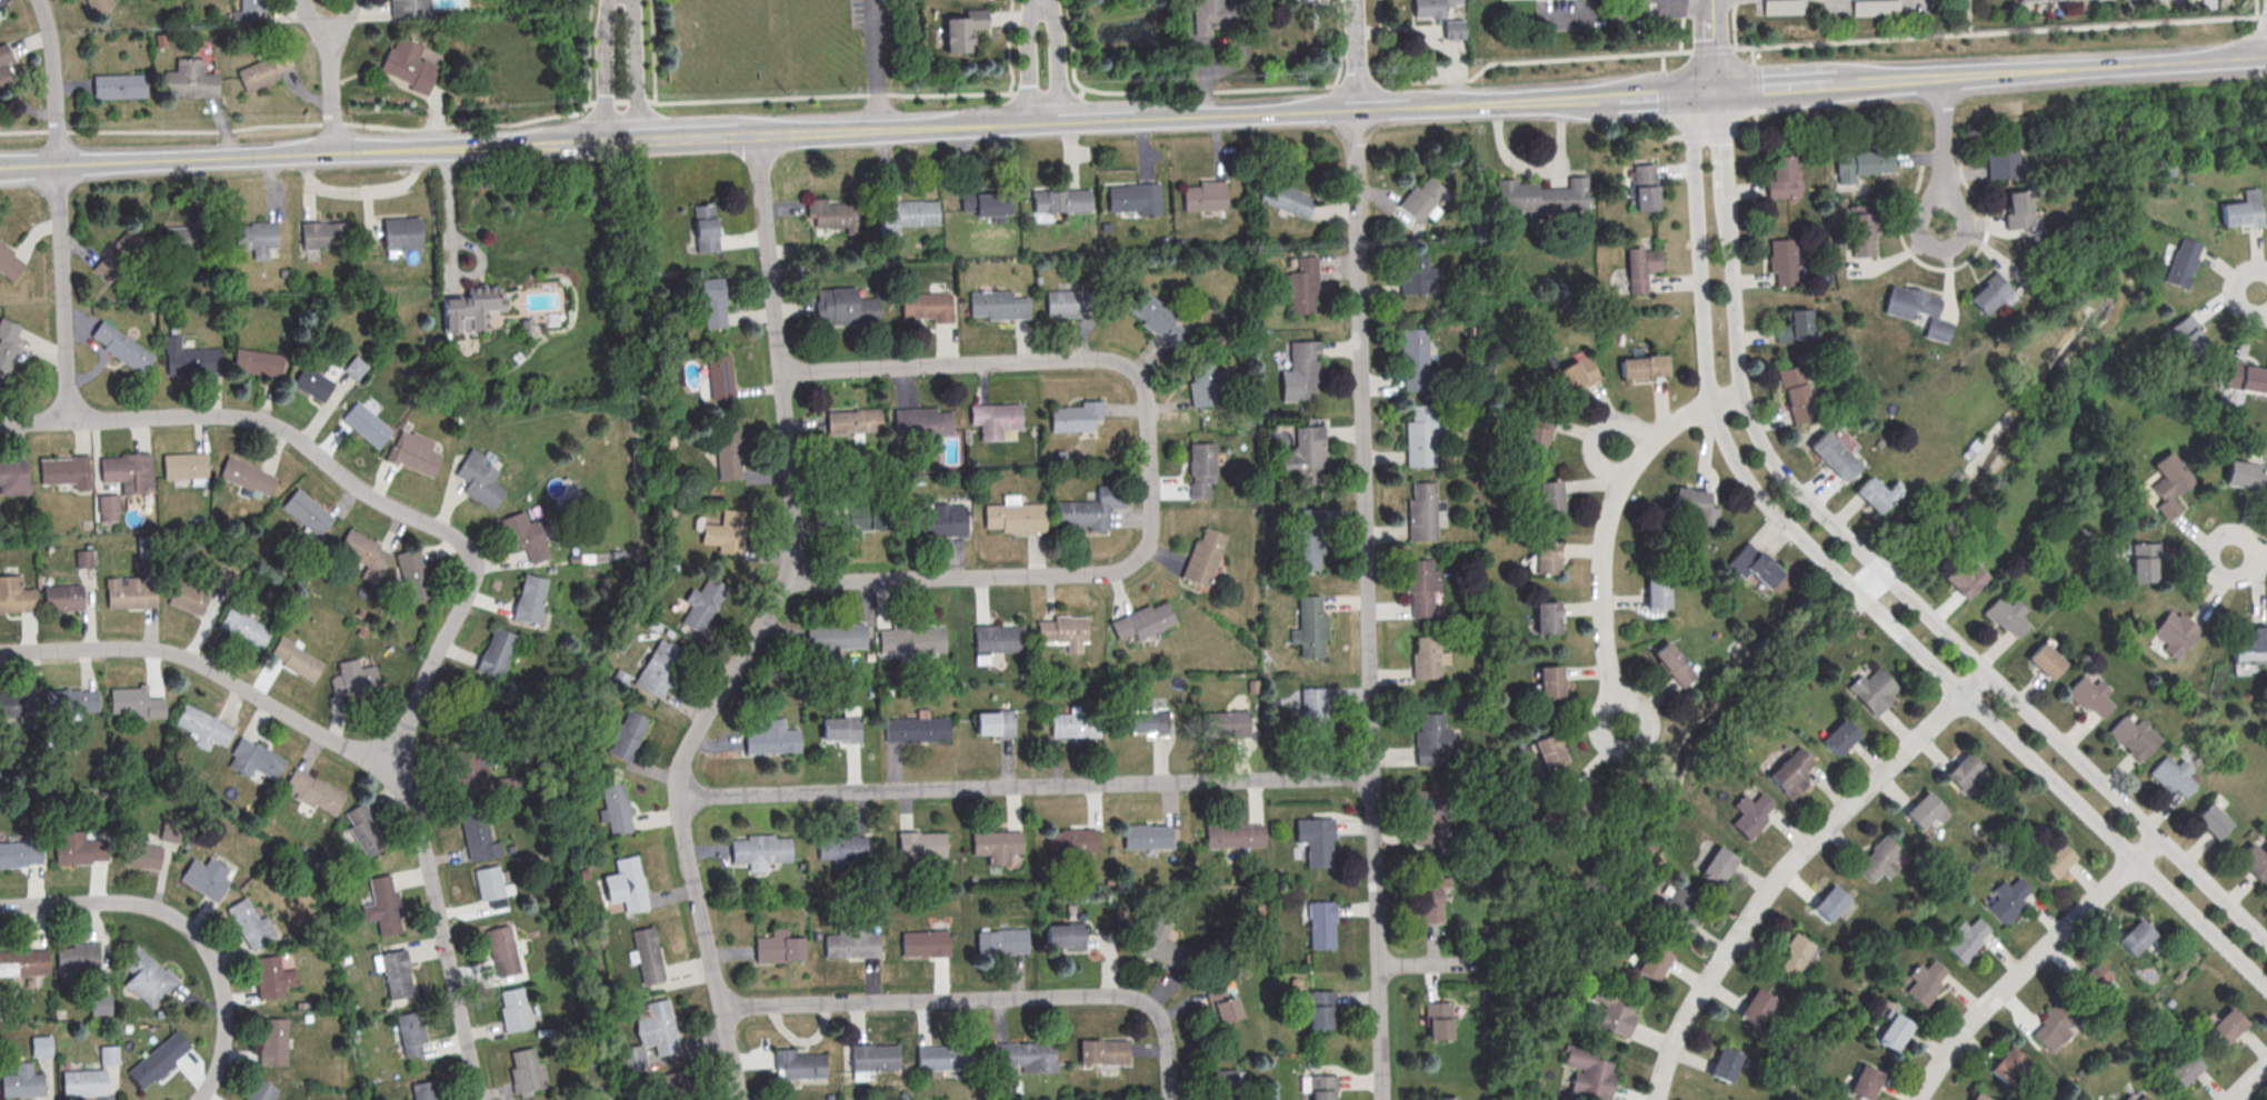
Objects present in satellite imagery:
building: (2046, 1)
building: (99, 4)
building: (1432, 7)
building: (1782, 7)
building: (1875, 7)
building: (409, 8)
road: (1609, 9)
road: (2255, 9)
building: (249, 10)
building: (0, 12)
building: (1210, 14)
road: (1732, 23)
road: (1681, 26)
building: (1454, 29)
building: (962, 31)
road: (1380, 42)
road: (1709, 44)
road: (1072, 46)
road: (1008, 47)
road: (1059, 59)
road: (1029, 60)
road: (1562, 60)
road: (876, 63)
building: (409, 67)
road: (2101, 67)
building: (6, 68)
road: (602, 69)
road: (641, 69)
building: (258, 73)
road: (331, 76)
building: (191, 79)
road: (1821, 83)
building: (120, 86)
traffic signals: (1707, 90)
road: (1556, 97)
road: (720, 99)
road: (1380, 107)
road: (1244, 111)
road: (566, 112)
road: (1099, 117)
road: (279, 124)
road: (910, 126)
road: (679, 137)
road: (1940, 137)
road: (328, 153)
building: (2003, 160)
building: (1862, 163)
road: (27, 167)
road: (1536, 171)
building: (1782, 177)
building: (1645, 186)
building: (1541, 196)
building: (1205, 197)
building: (1421, 197)
road: (1943, 197)
building: (1286, 198)
building: (1135, 200)
building: (1061, 202)
building: (986, 203)
road: (56, 208)
building: (2018, 209)
building: (2243, 210)
building: (906, 213)
building: (831, 214)
road: (448, 223)
building: (705, 230)
building: (1861, 231)
building: (324, 234)
building: (401, 234)
building: (257, 238)
building: (9, 261)
building: (2183, 261)
building: (1781, 262)
building: (1641, 267)
building: (1415, 271)
building: (1301, 283)
road: (2235, 290)
building: (1990, 292)
building: (1068, 303)
building: (713, 306)
building: (998, 306)
building: (845, 308)
building: (928, 308)
building: (471, 310)
building: (1917, 311)
building: (1158, 319)
building: (1800, 322)
building: (2185, 336)
building: (8, 344)
building: (122, 346)
road: (1736, 347)
building: (1416, 357)
building: (191, 358)
road: (1704, 359)
building: (258, 361)
building: (1642, 366)
building: (356, 367)
building: (1304, 367)
building: (1576, 372)
building: (719, 378)
building: (2245, 379)
building: (313, 382)
building: (1207, 384)
building: (1796, 394)
building: (1076, 418)
road: (32, 419)
building: (995, 420)
building: (853, 422)
building: (367, 426)
building: (920, 426)
building: (1535, 433)
building: (1421, 434)
building: (413, 453)
building: (727, 456)
building: (1306, 457)
building: (1836, 460)
building: (186, 466)
road: (1148, 466)
building: (1201, 470)
building: (67, 471)
building: (129, 471)
building: (2243, 473)
building: (246, 476)
building: (14, 477)
building: (479, 481)
building: (2169, 483)
building: (1549, 496)
building: (1872, 497)
building: (1695, 504)
building: (108, 507)
building: (1090, 510)
building: (1422, 510)
building: (308, 511)
road: (1608, 511)
building: (1015, 518)
building: (867, 519)
building: (936, 523)
building: (725, 532)
building: (1309, 537)
building: (525, 538)
road: (1365, 549)
building: (366, 554)
road: (2255, 554)
road: (2261, 554)
building: (1546, 557)
building: (84, 558)
building: (1202, 559)
building: (2143, 561)
building: (1754, 564)
road: (1880, 572)
building: (415, 576)
building: (1964, 582)
building: (1422, 583)
road: (1858, 591)
building: (130, 592)
building: (1657, 593)
building: (16, 596)
building: (63, 597)
building: (188, 597)
building: (530, 600)
building: (702, 604)
road: (459, 612)
building: (1547, 617)
building: (2006, 617)
building: (1144, 622)
building: (1311, 624)
road: (759, 626)
building: (244, 627)
building: (1061, 631)
building: (2174, 633)
building: (837, 638)
building: (997, 639)
building: (912, 641)
building: (2250, 647)
building: (496, 654)
building: (1427, 656)
building: (296, 659)
building: (2044, 662)
building: (1674, 663)
building: (661, 668)
road: (218, 676)
building: (353, 678)
building: (1550, 681)
building: (1871, 689)
building: (2089, 698)
road: (1614, 699)
building: (72, 700)
building: (134, 702)
building: (17, 703)
building: (1315, 709)
building: (470, 716)
building: (1148, 723)
building: (995, 724)
building: (1075, 726)
building: (1224, 726)
building: (203, 727)
building: (840, 730)
building: (917, 731)
building: (626, 736)
building: (2131, 736)
building: (1436, 737)
building: (1839, 739)
building: (775, 741)
building: (1549, 750)
building: (254, 759)
road: (2079, 762)
building: (471, 769)
building: (1960, 769)
building: (2170, 774)
building: (1790, 776)
road: (1025, 784)
building: (314, 791)
road: (2066, 794)
building: (1923, 808)
building: (617, 810)
building: (1430, 813)
building: (1749, 816)
building: (2210, 819)
building: (171, 830)
building: (364, 830)
building: (478, 837)
building: (1239, 837)
building: (1146, 838)
building: (1317, 838)
building: (1072, 841)
building: (997, 843)
building: (921, 844)
building: (79, 847)
building: (841, 848)
building: (759, 852)
building: (20, 853)
building: (142, 854)
building: (1880, 854)
building: (2053, 859)
building: (2253, 860)
road: (1789, 862)
building: (1717, 863)
building: (206, 877)
building: (630, 886)
building: (490, 888)
building: (1430, 894)
building: (2005, 899)
road: (144, 902)
building: (1828, 902)
building: (385, 907)
building: (1677, 907)
building: (252, 923)
building: (1322, 923)
building: (1066, 936)
building: (2133, 936)
building: (1964, 939)
building: (1001, 942)
building: (1157, 944)
building: (925, 946)
building: (853, 947)
building: (779, 950)
building: (503, 952)
building: (1796, 952)
building: (78, 957)
building: (648, 957)
building: (26, 962)
building: (1652, 962)
road: (2027, 962)
road: (1428, 963)
building: (147, 976)
building: (396, 976)
building: (272, 977)
building: (2089, 978)
building: (1923, 981)
road: (985, 997)
building: (100, 1003)
building: (1222, 1004)
building: (1754, 1006)
building: (1322, 1009)
building: (513, 1010)
building: (1611, 1018)
building: (1441, 1020)
building: (2226, 1024)
building: (2050, 1026)
building: (660, 1029)
building: (1891, 1030)
building: (411, 1033)
building: (273, 1041)
building: (41, 1046)
building: (1102, 1052)
building: (109, 1054)
building: (1025, 1054)
building: (159, 1058)
building: (943, 1058)
road: (219, 1059)
building: (873, 1059)
building: (1724, 1064)
building: (2005, 1064)
building: (798, 1066)
building: (523, 1069)
building: (2181, 1069)
building: (1588, 1071)
road: (2246, 1080)
building: (22, 1081)
building: (1862, 1081)
building: (82, 1082)
building: (675, 1086)
building: (1225, 1086)
building: (1322, 1086)
building: (261, 1090)
building: (423, 1091)
building: (1446, 1097)
building: (1976, 1097)

